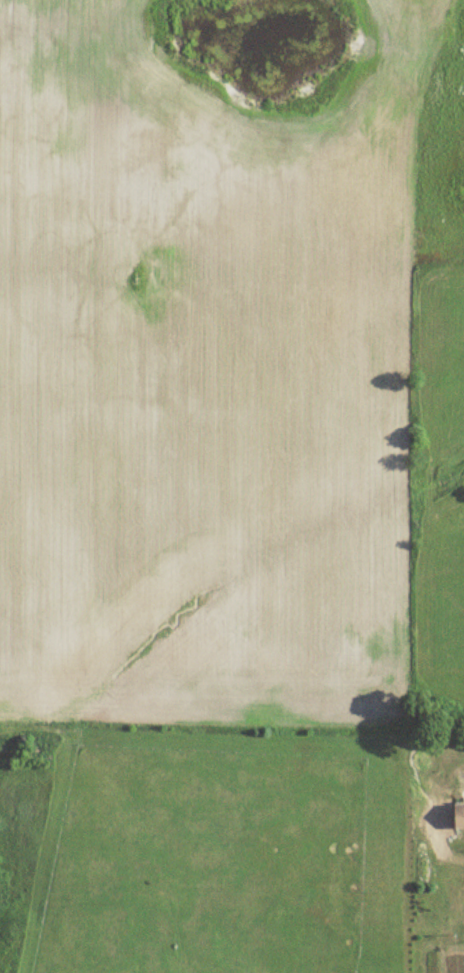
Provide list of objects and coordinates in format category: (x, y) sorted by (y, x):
building: (457, 815)

